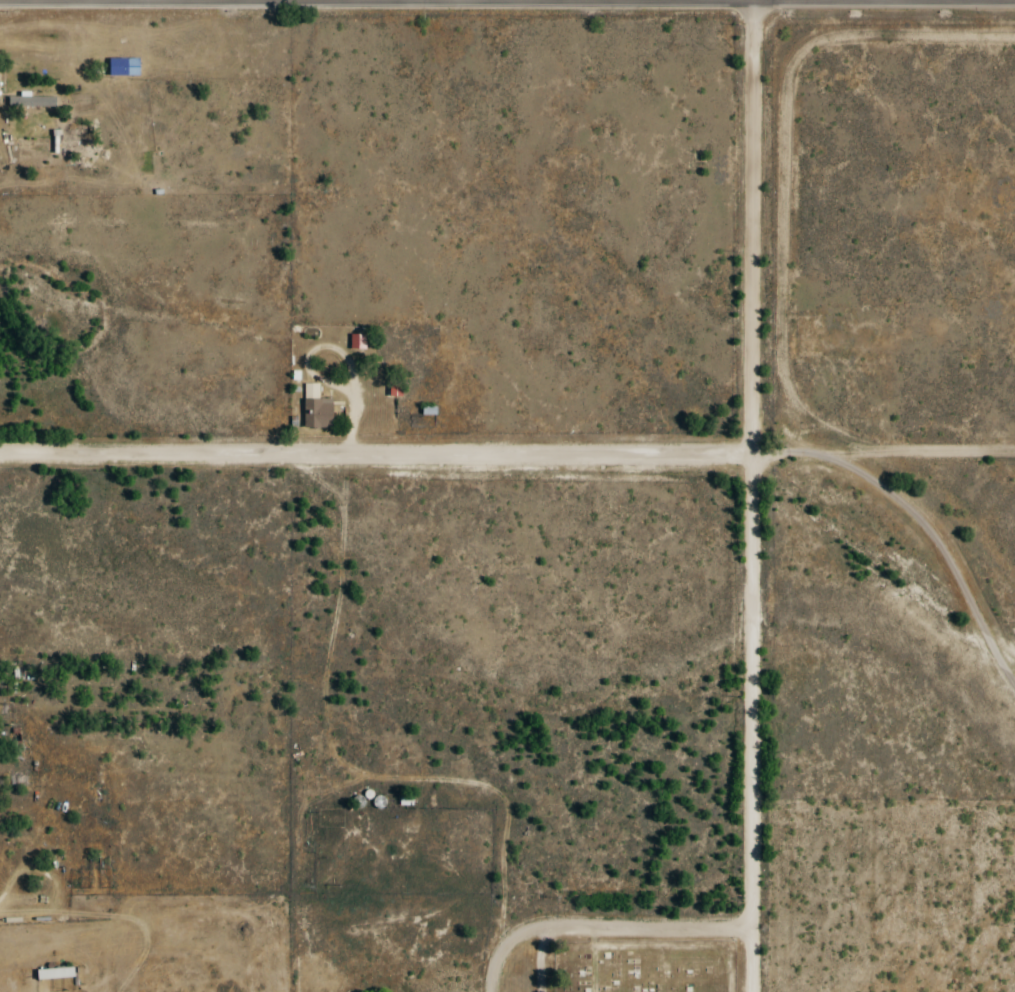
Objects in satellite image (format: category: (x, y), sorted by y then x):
building: (32, 101)
building: (358, 341)
building: (396, 390)
building: (316, 408)
road: (376, 455)
road: (753, 495)
road: (919, 522)
building: (406, 799)
building: (380, 802)
road: (606, 926)
road: (657, 944)
road: (544, 959)
road: (595, 959)
park: (643, 965)
building: (56, 973)

